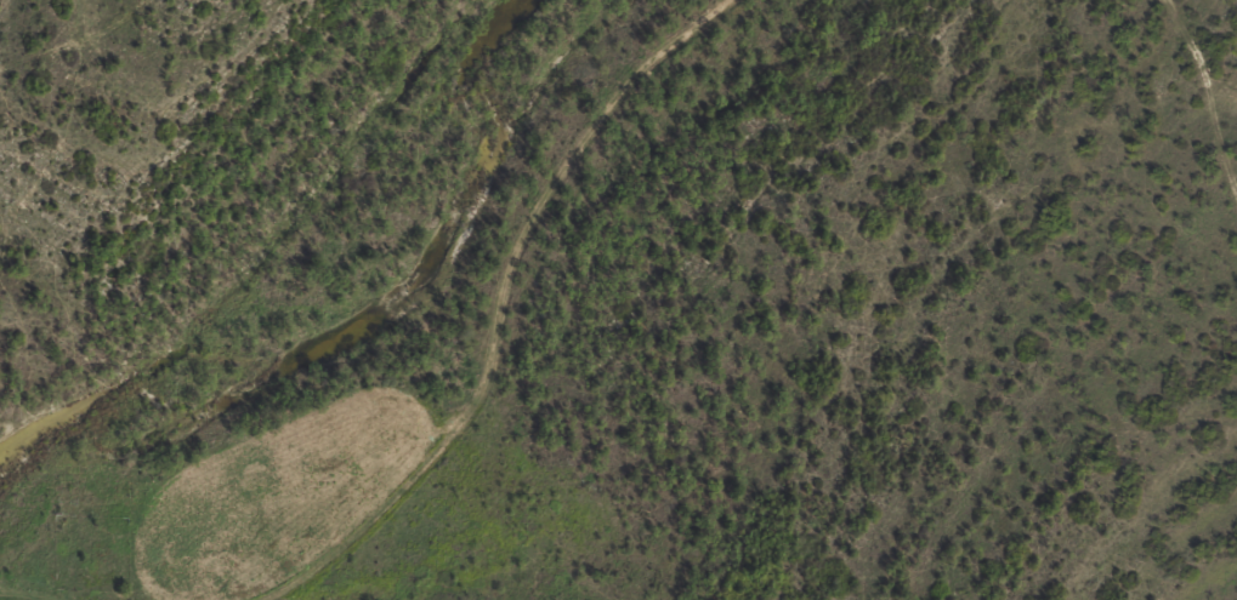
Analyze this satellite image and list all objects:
road: (516, 315)

